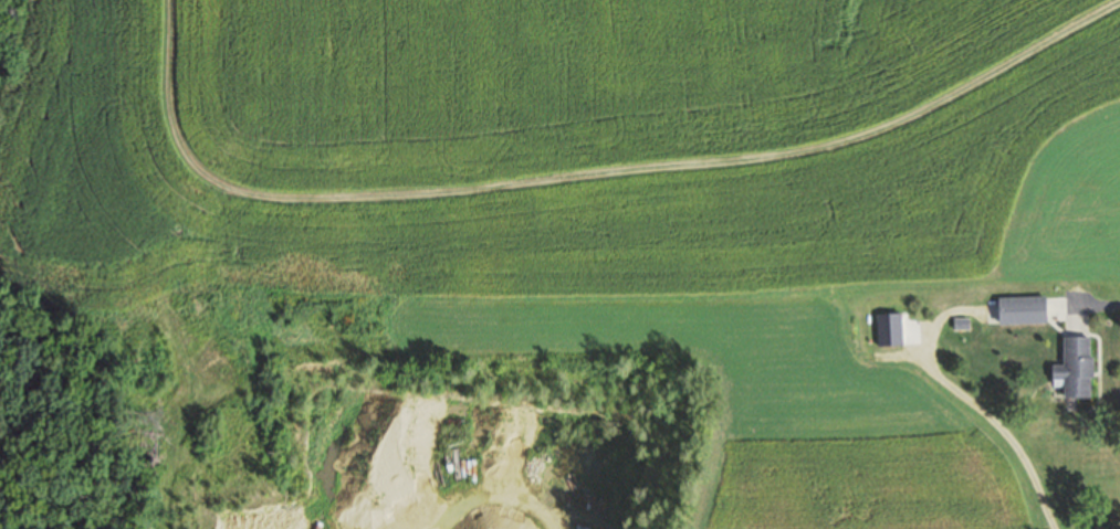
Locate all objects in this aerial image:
building: (1072, 367)

